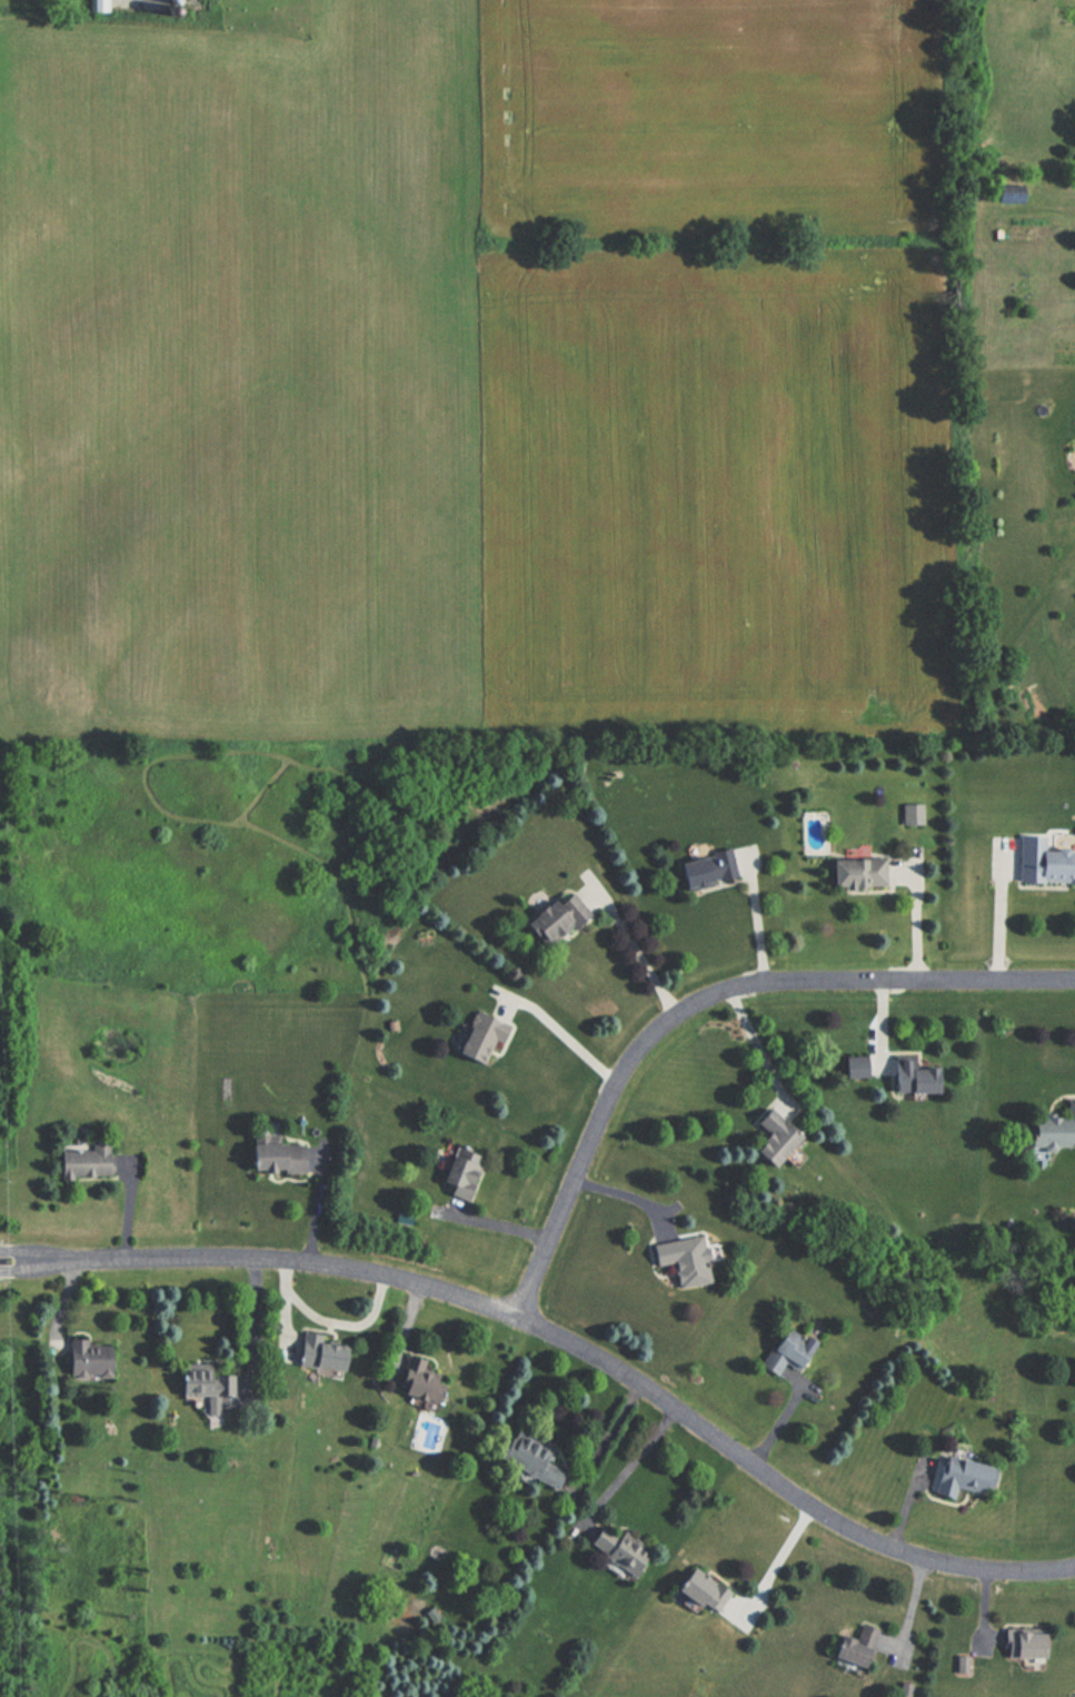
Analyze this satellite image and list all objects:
building: (904, 817)
building: (1043, 862)
building: (704, 869)
building: (855, 872)
road: (998, 913)
road: (754, 916)
road: (914, 916)
building: (547, 923)
road: (630, 946)
road: (704, 998)
road: (878, 1021)
road: (558, 1032)
building: (477, 1039)
road: (756, 1048)
building: (890, 1070)
building: (1052, 1129)
building: (768, 1138)
building: (272, 1157)
building: (83, 1161)
building: (457, 1171)
road: (617, 1192)
road: (313, 1212)
road: (126, 1219)
road: (491, 1224)
road: (26, 1243)
road: (24, 1260)
building: (681, 1260)
road: (63, 1297)
road: (281, 1321)
road: (328, 1322)
road: (252, 1327)
road: (586, 1346)
building: (783, 1350)
building: (317, 1353)
building: (86, 1360)
building: (416, 1381)
building: (205, 1388)
road: (776, 1423)
building: (530, 1461)
road: (628, 1466)
building: (956, 1477)
road: (904, 1504)
building: (616, 1550)
road: (774, 1564)
building: (699, 1591)
road: (983, 1605)
road: (908, 1606)
building: (1019, 1645)
building: (850, 1648)

